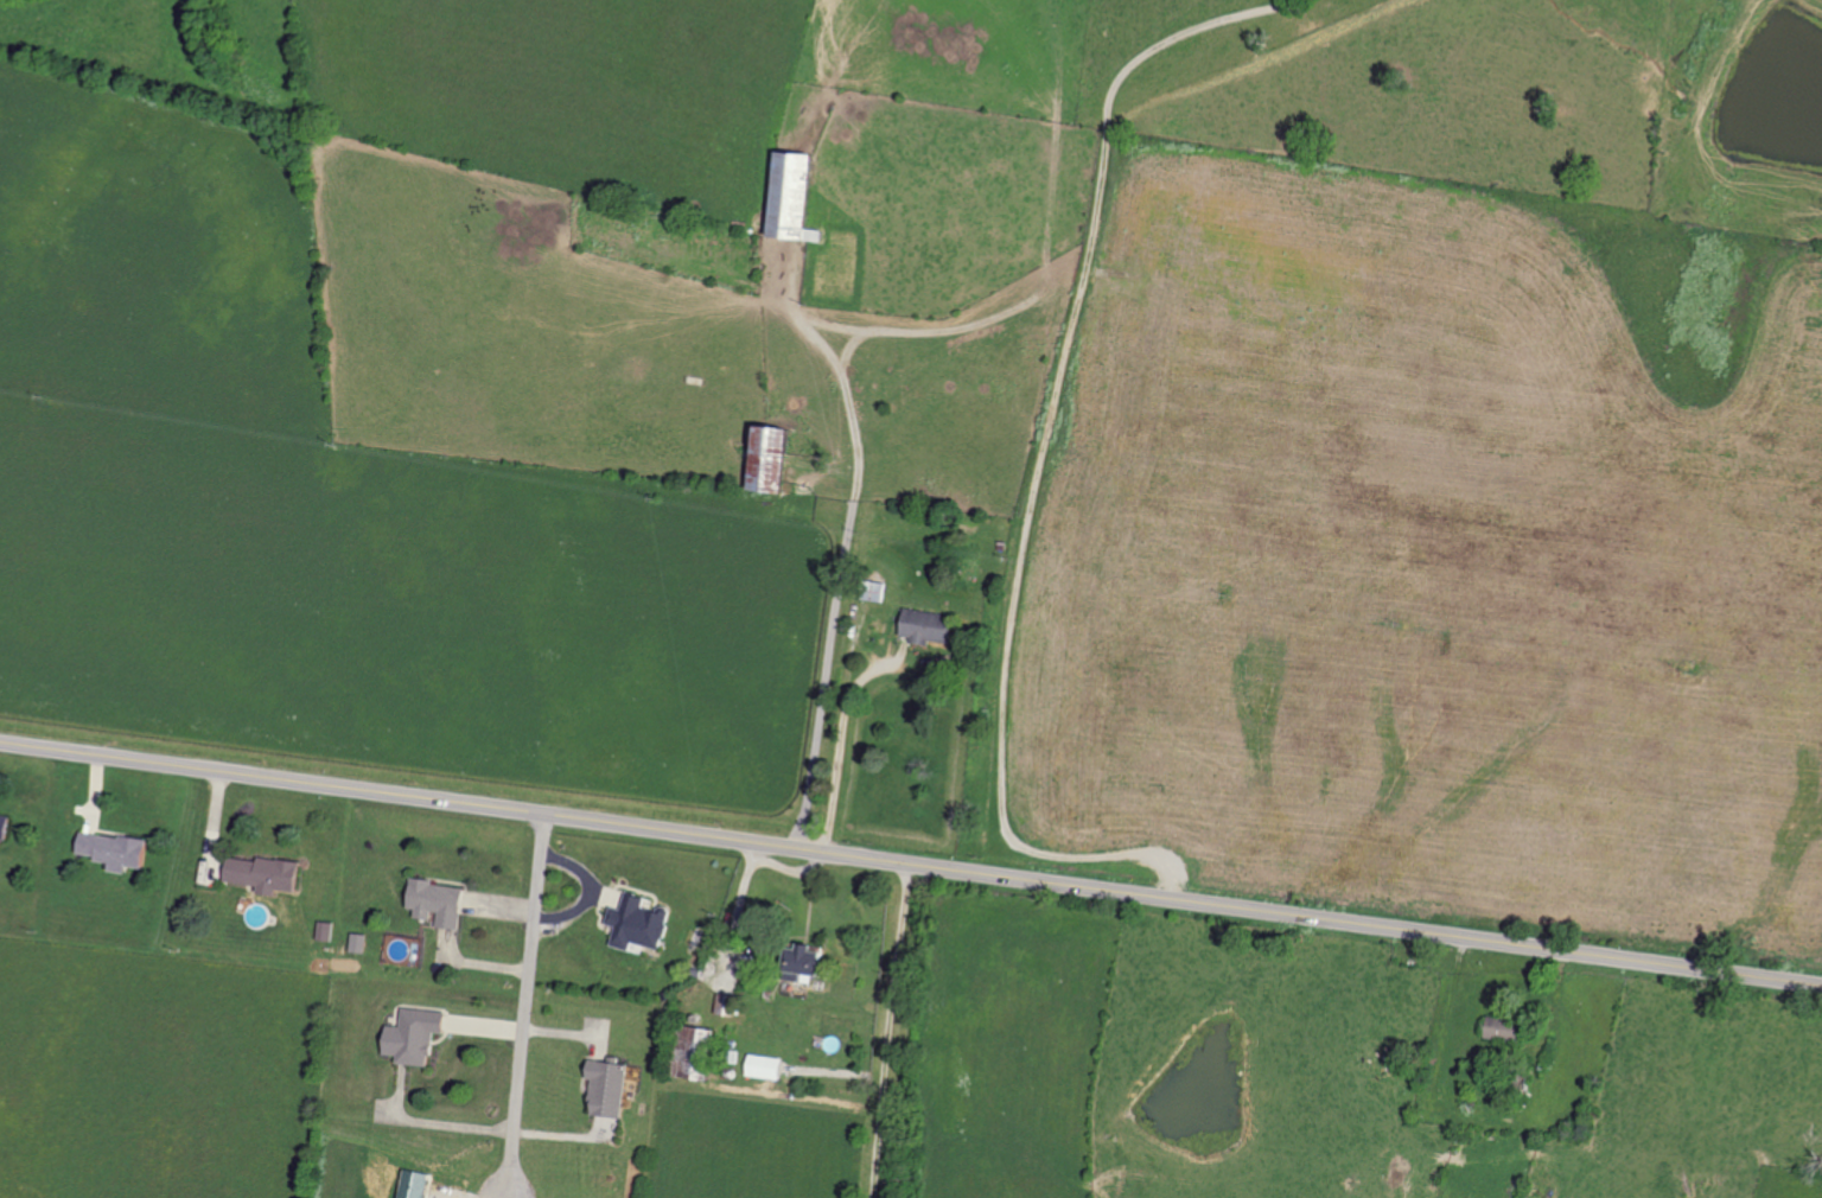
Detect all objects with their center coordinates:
building: (791, 195)
road: (47, 433)
building: (771, 457)
road: (1041, 457)
road: (835, 550)
building: (928, 625)
building: (4, 824)
building: (113, 849)
road: (911, 859)
building: (265, 873)
building: (439, 901)
building: (638, 923)
building: (325, 930)
building: (805, 963)
road: (533, 993)
road: (886, 1027)
building: (1503, 1028)
building: (415, 1035)
building: (692, 1050)
building: (765, 1066)
building: (609, 1085)
road: (435, 1138)
building: (414, 1184)

